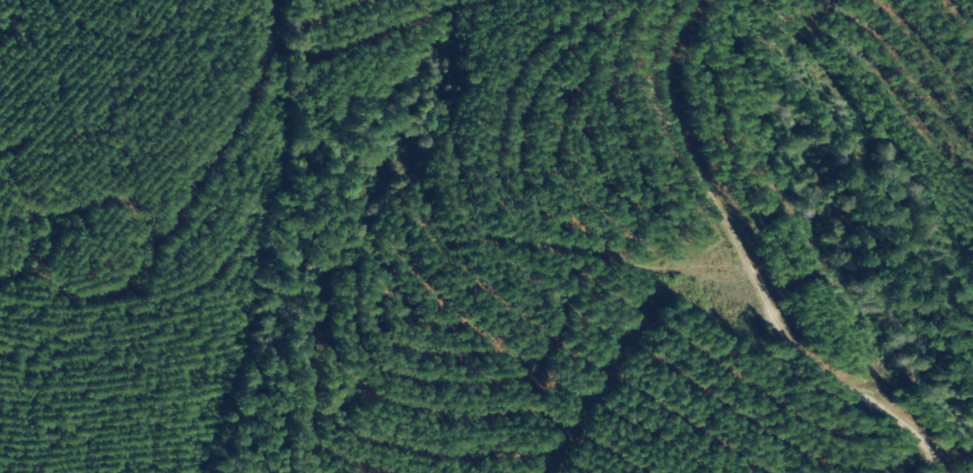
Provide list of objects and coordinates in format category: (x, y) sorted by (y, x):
road: (746, 267)

